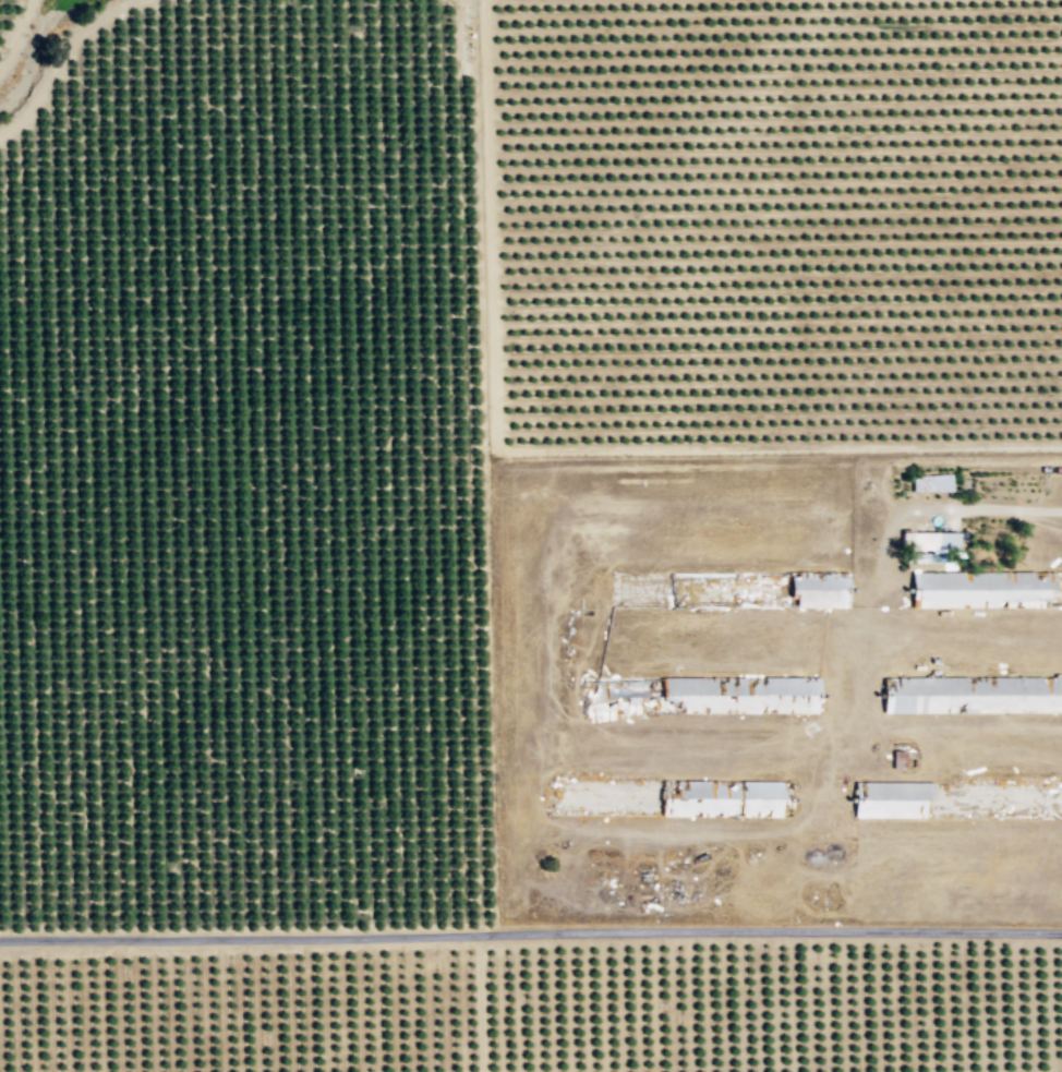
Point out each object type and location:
road: (17, 35)
road: (555, 449)
building: (932, 484)
road: (1014, 506)
building: (932, 545)
building: (760, 589)
building: (987, 589)
building: (701, 695)
building: (972, 695)
building: (725, 798)
road: (530, 932)
road: (479, 1003)

